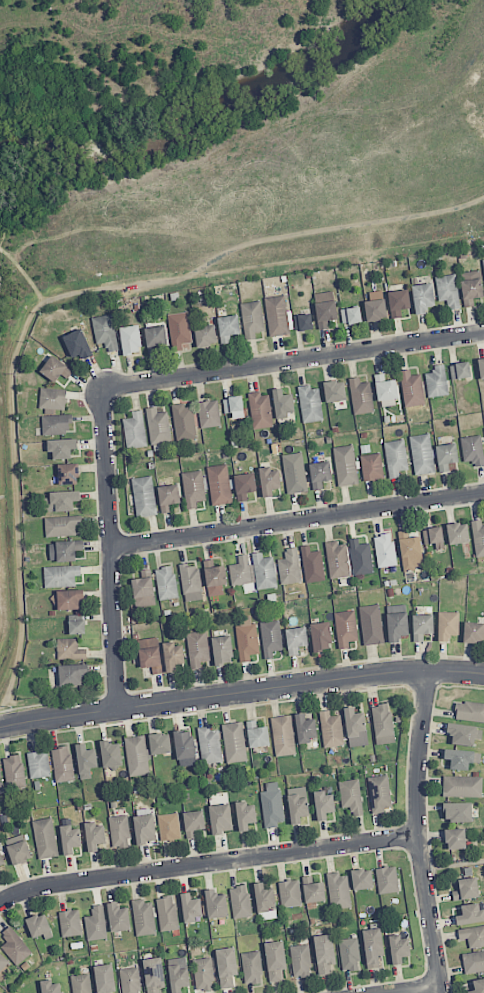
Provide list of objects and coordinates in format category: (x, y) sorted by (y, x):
building: (483, 263)
building: (471, 287)
building: (447, 290)
building: (422, 298)
building: (398, 302)
building: (375, 306)
building: (325, 308)
building: (350, 315)
building: (277, 316)
building: (252, 319)
building: (302, 322)
building: (227, 327)
building: (179, 330)
building: (105, 331)
building: (205, 335)
building: (155, 338)
building: (130, 340)
building: (77, 344)
road: (293, 361)
building: (481, 368)
building: (55, 369)
building: (460, 370)
building: (437, 382)
building: (385, 388)
building: (412, 389)
building: (334, 391)
building: (360, 396)
building: (52, 399)
building: (282, 403)
building: (310, 404)
building: (233, 406)
building: (260, 410)
building: (209, 414)
building: (184, 422)
building: (55, 424)
building: (158, 426)
building: (134, 431)
building: (61, 448)
building: (472, 450)
building: (422, 454)
building: (446, 456)
building: (395, 457)
building: (345, 465)
building: (371, 467)
building: (294, 473)
building: (68, 474)
building: (319, 474)
building: (269, 480)
building: (219, 484)
building: (244, 485)
building: (193, 488)
building: (144, 496)
building: (168, 497)
building: (60, 501)
road: (297, 523)
building: (61, 525)
building: (457, 533)
building: (433, 537)
building: (478, 538)
road: (110, 548)
building: (64, 550)
building: (385, 550)
building: (410, 550)
building: (360, 557)
building: (337, 559)
building: (312, 564)
building: (289, 567)
building: (241, 571)
building: (264, 571)
building: (61, 575)
building: (214, 578)
building: (166, 583)
building: (191, 583)
building: (143, 589)
building: (69, 599)
building: (396, 609)
building: (371, 625)
building: (447, 625)
building: (396, 626)
building: (422, 626)
building: (76, 627)
building: (345, 628)
building: (473, 632)
building: (321, 636)
building: (246, 638)
building: (270, 638)
building: (296, 639)
building: (197, 648)
building: (70, 649)
building: (222, 650)
building: (150, 654)
building: (173, 656)
building: (72, 674)
road: (241, 692)
building: (469, 711)
building: (382, 724)
building: (305, 728)
building: (355, 728)
building: (331, 729)
building: (464, 734)
building: (257, 735)
building: (283, 736)
building: (234, 742)
building: (160, 743)
building: (209, 745)
building: (184, 747)
building: (110, 754)
building: (137, 755)
building: (461, 758)
building: (85, 760)
building: (38, 764)
building: (62, 764)
building: (14, 772)
building: (1, 783)
building: (462, 786)
building: (379, 793)
building: (351, 796)
building: (297, 804)
building: (272, 805)
building: (324, 805)
building: (458, 811)
building: (245, 815)
building: (220, 818)
building: (193, 823)
building: (169, 827)
building: (144, 829)
building: (119, 831)
road: (418, 832)
building: (94, 836)
building: (45, 838)
building: (70, 839)
building: (455, 839)
building: (19, 852)
building: (2, 862)
road: (208, 866)
building: (362, 879)
building: (387, 880)
building: (466, 889)
building: (338, 890)
building: (290, 893)
building: (240, 902)
building: (265, 902)
building: (215, 904)
building: (191, 908)
building: (167, 913)
building: (470, 914)
building: (118, 917)
building: (143, 917)
building: (70, 923)
building: (96, 924)
building: (39, 926)
building: (472, 936)
building: (15, 946)
building: (372, 946)
building: (399, 949)
building: (324, 953)
building: (349, 954)
building: (275, 960)
building: (300, 961)
building: (3, 962)
building: (473, 962)
building: (226, 967)
building: (251, 967)
building: (153, 974)
building: (203, 974)
building: (104, 978)
building: (178, 978)
building: (129, 980)
building: (81, 983)
building: (478, 986)
building: (50, 987)
road: (424, 990)

